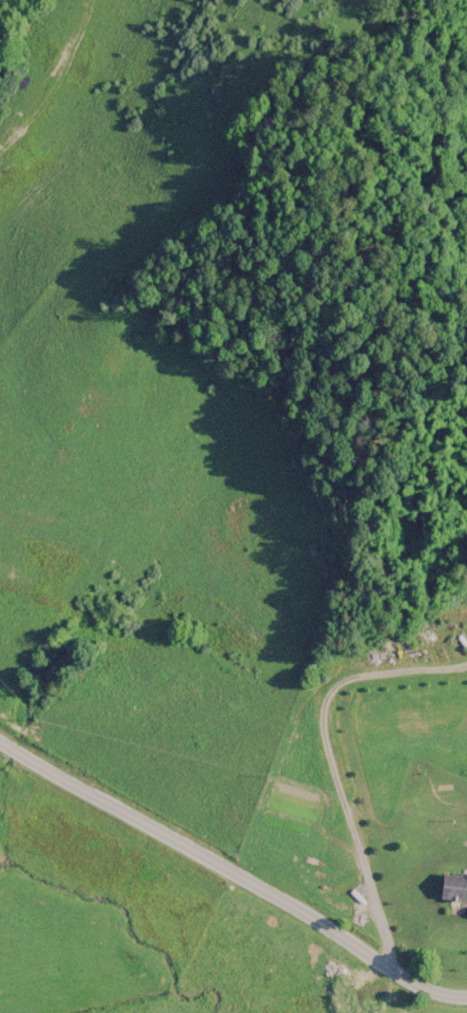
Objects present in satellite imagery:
road: (333, 760)
road: (233, 870)
building: (453, 887)

